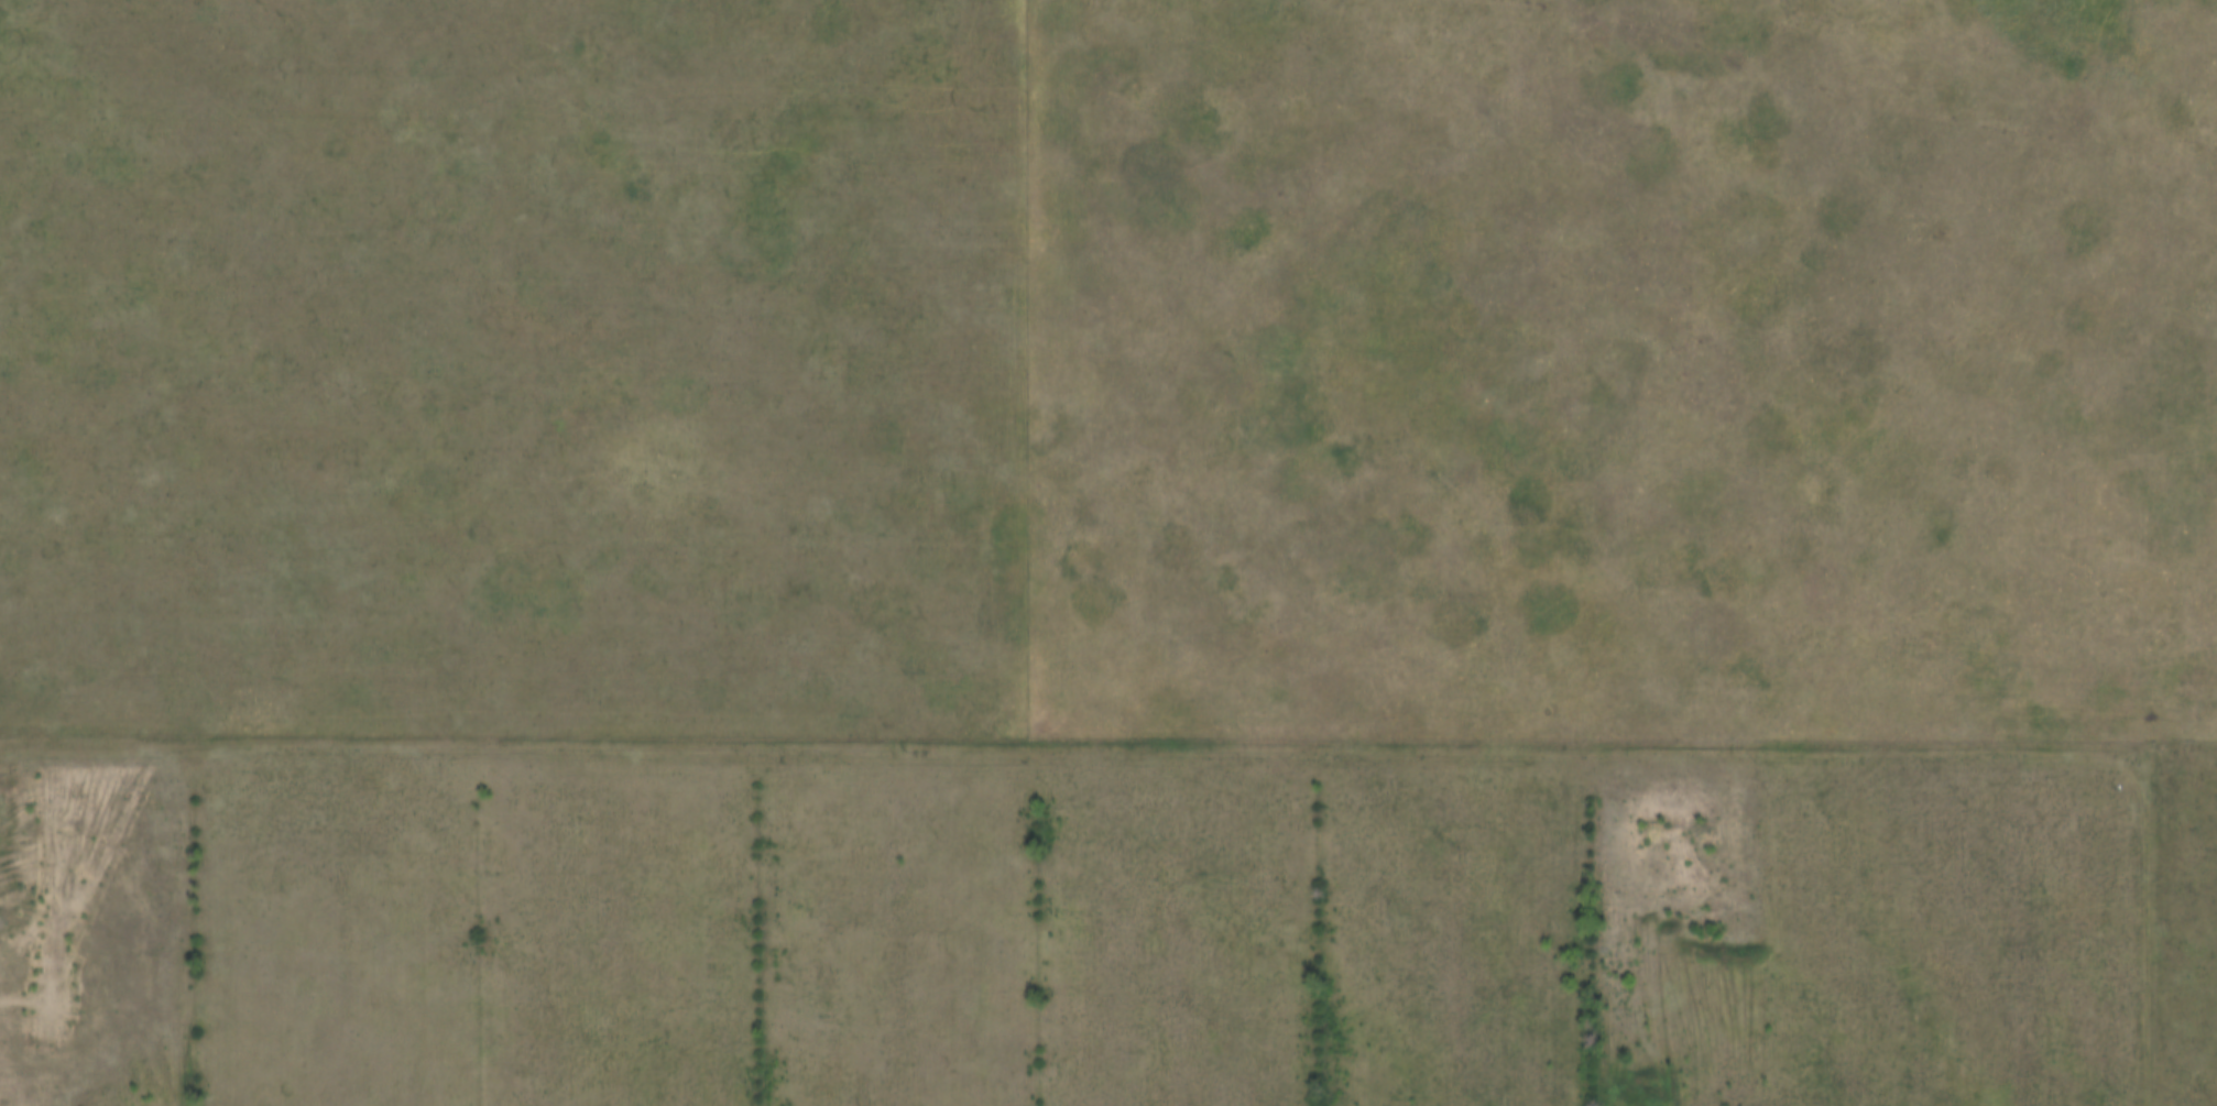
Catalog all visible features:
road: (2187, 33)

